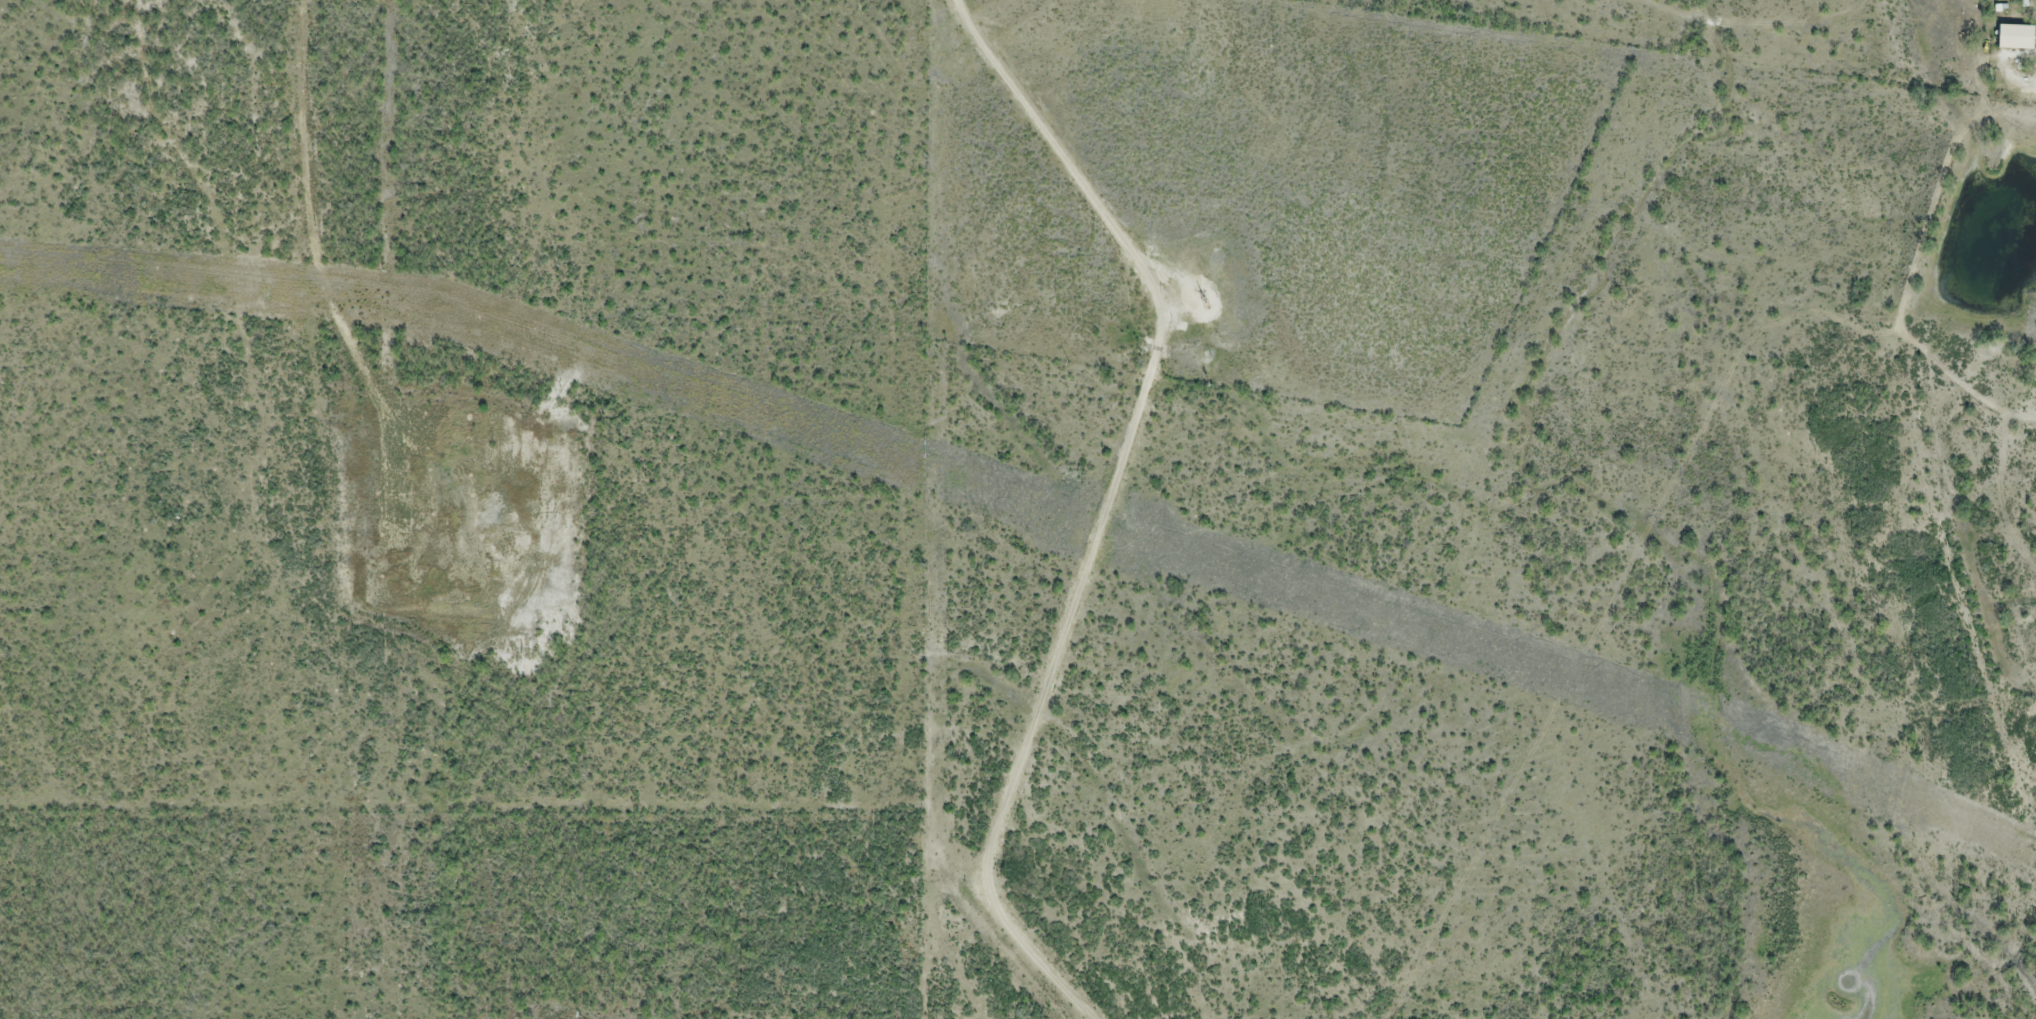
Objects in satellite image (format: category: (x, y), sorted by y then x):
building: (2016, 35)

